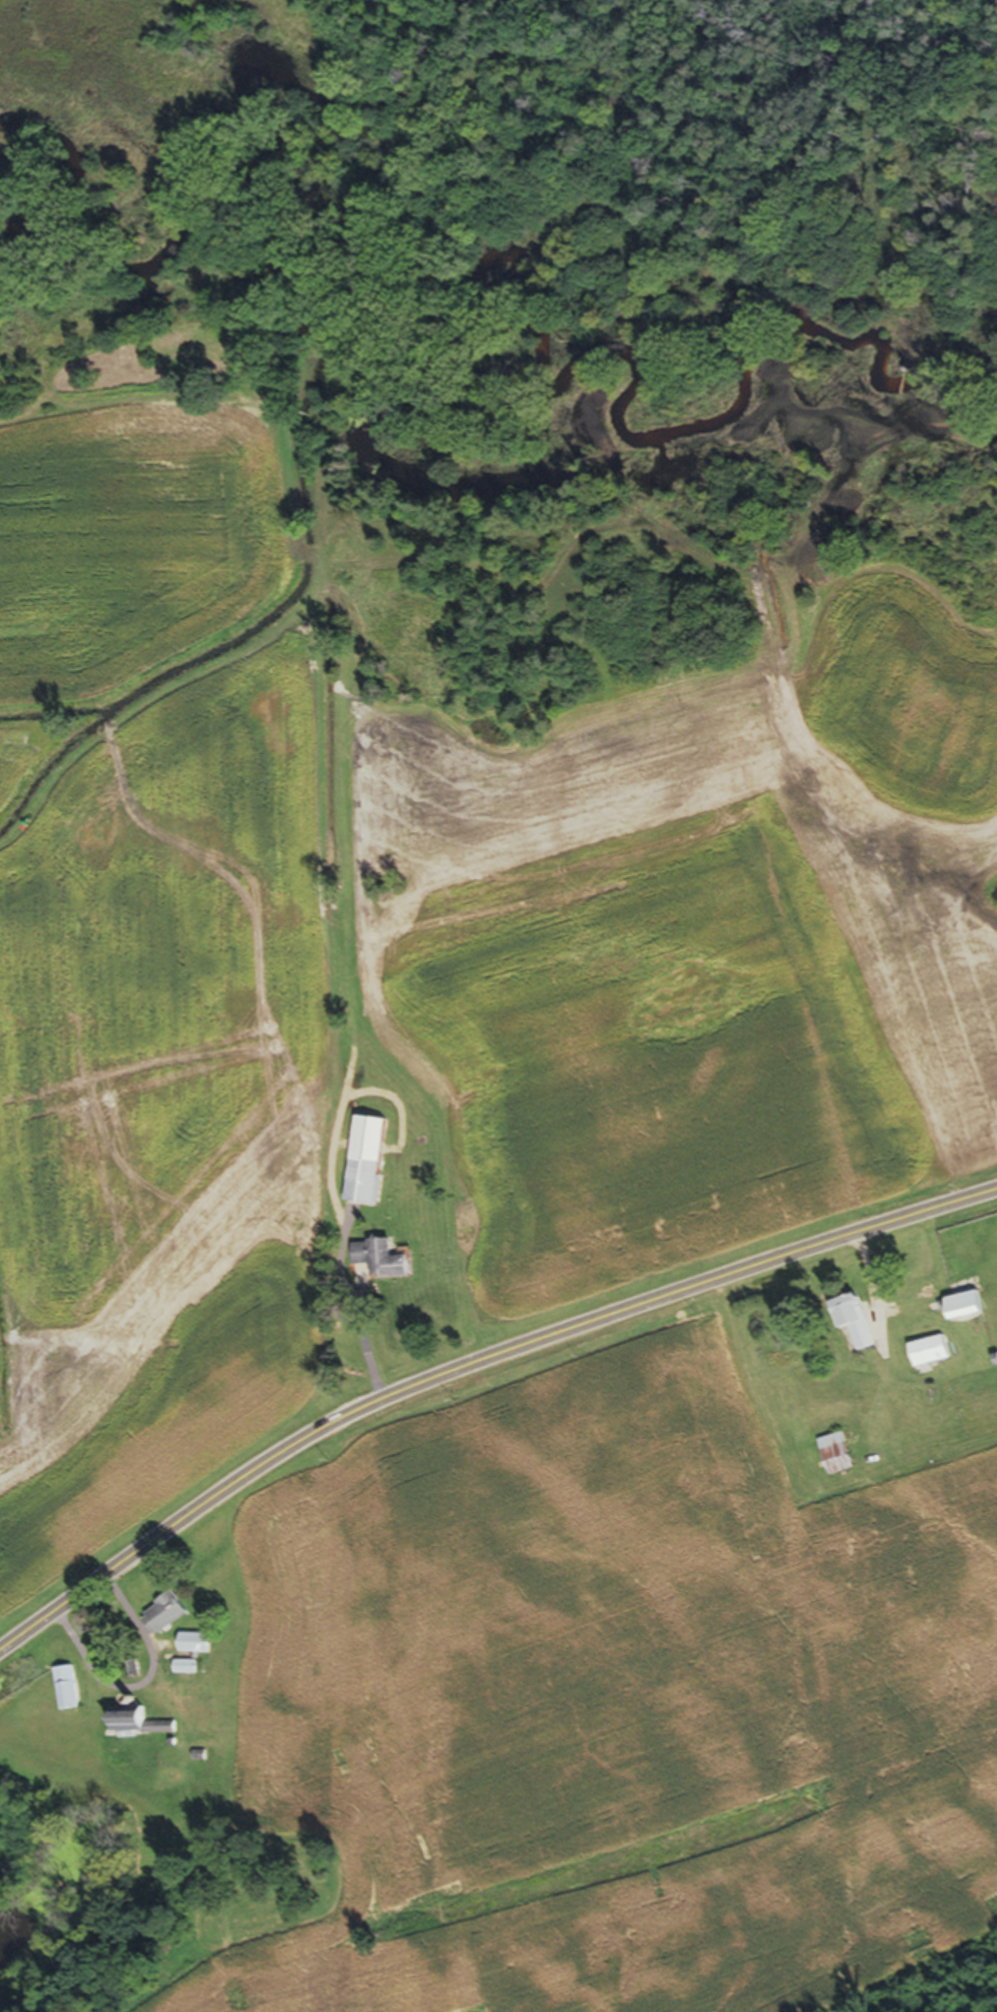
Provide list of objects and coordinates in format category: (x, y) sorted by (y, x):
building: (365, 1166)
building: (379, 1265)
road: (347, 1309)
building: (962, 1311)
building: (851, 1329)
building: (927, 1357)
road: (471, 1365)
building: (835, 1459)
building: (162, 1619)
building: (192, 1649)
building: (183, 1673)
building: (63, 1694)
building: (137, 1727)

